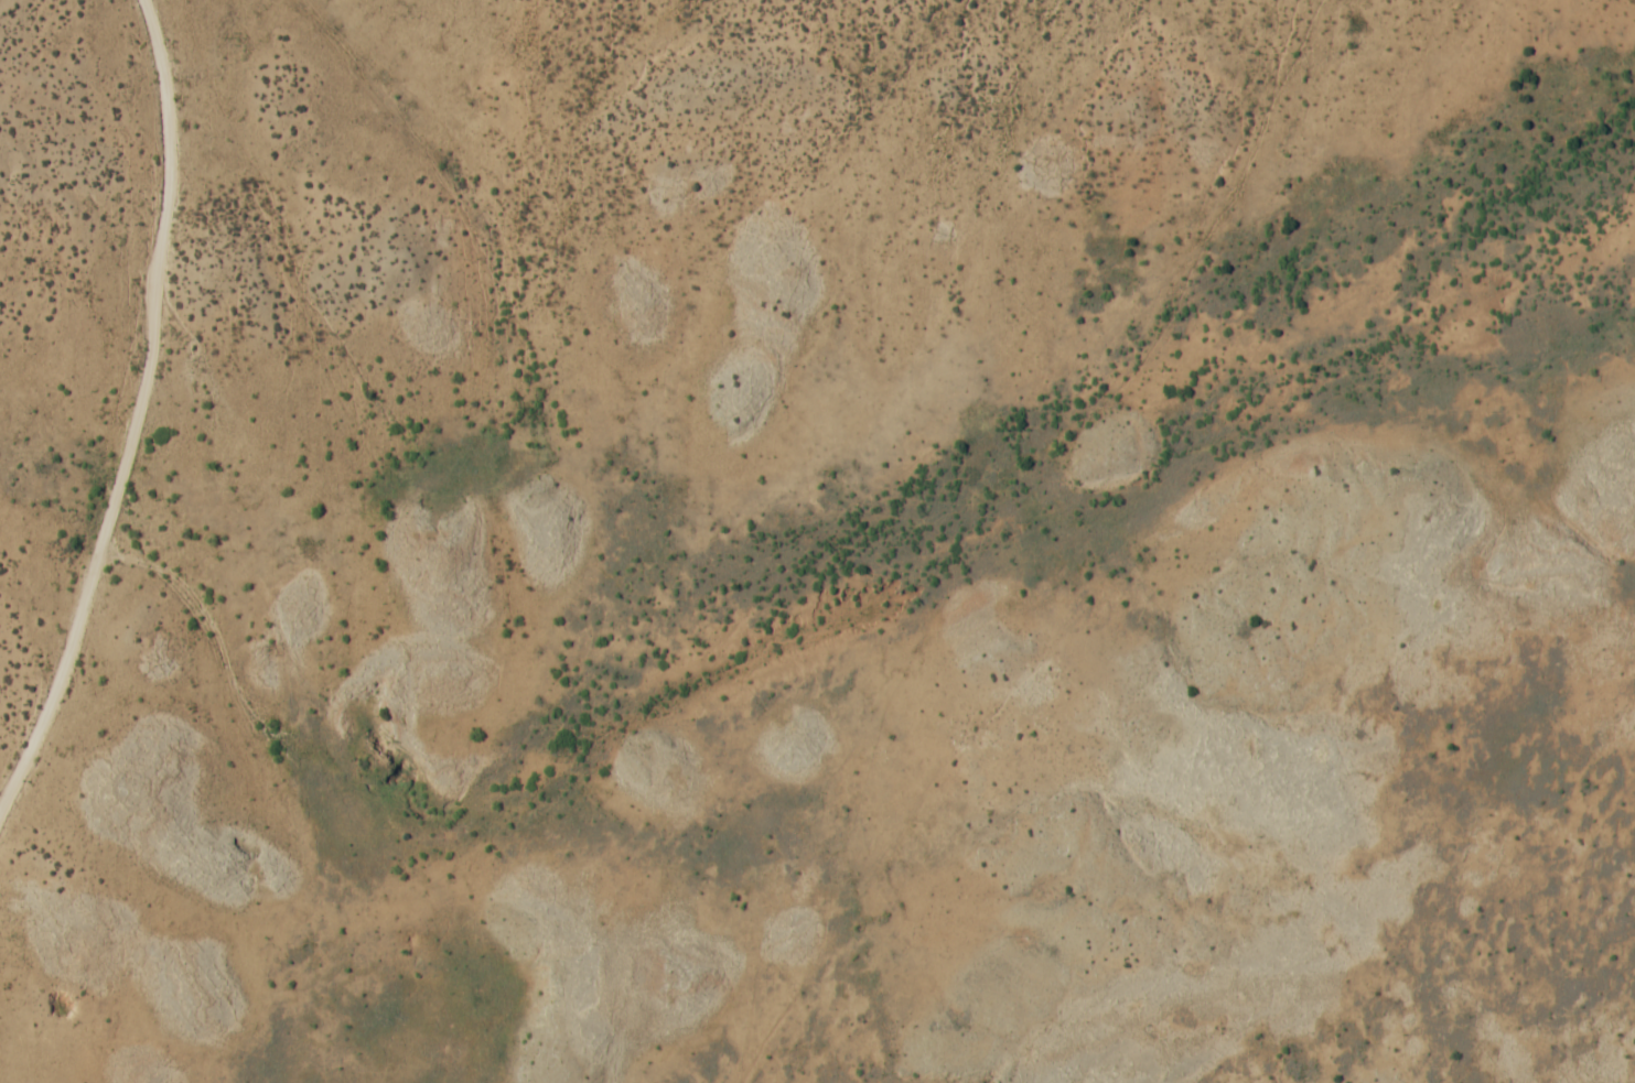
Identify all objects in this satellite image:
road: (139, 416)

